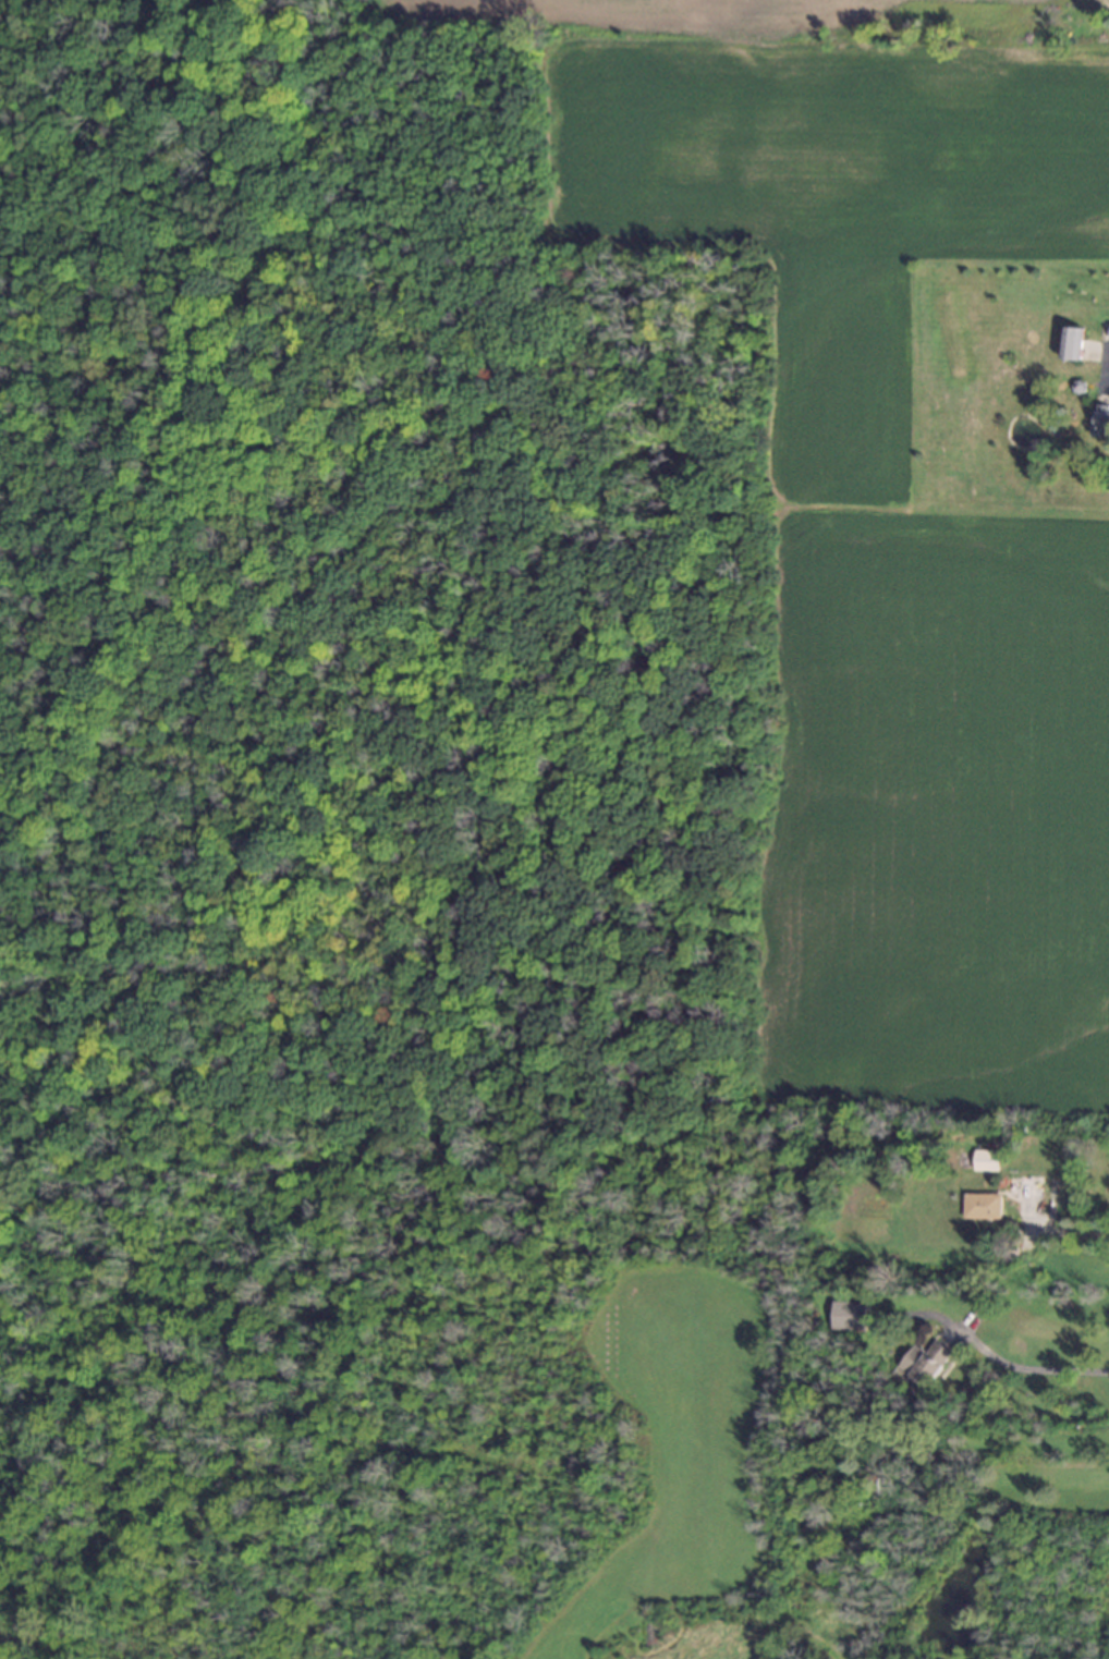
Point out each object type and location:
park: (160, 20)
building: (1052, 31)
building: (1073, 344)
building: (1100, 422)
building: (987, 1161)
building: (983, 1207)
road: (1072, 1236)
building: (851, 1316)
building: (925, 1365)
road: (1027, 1373)

